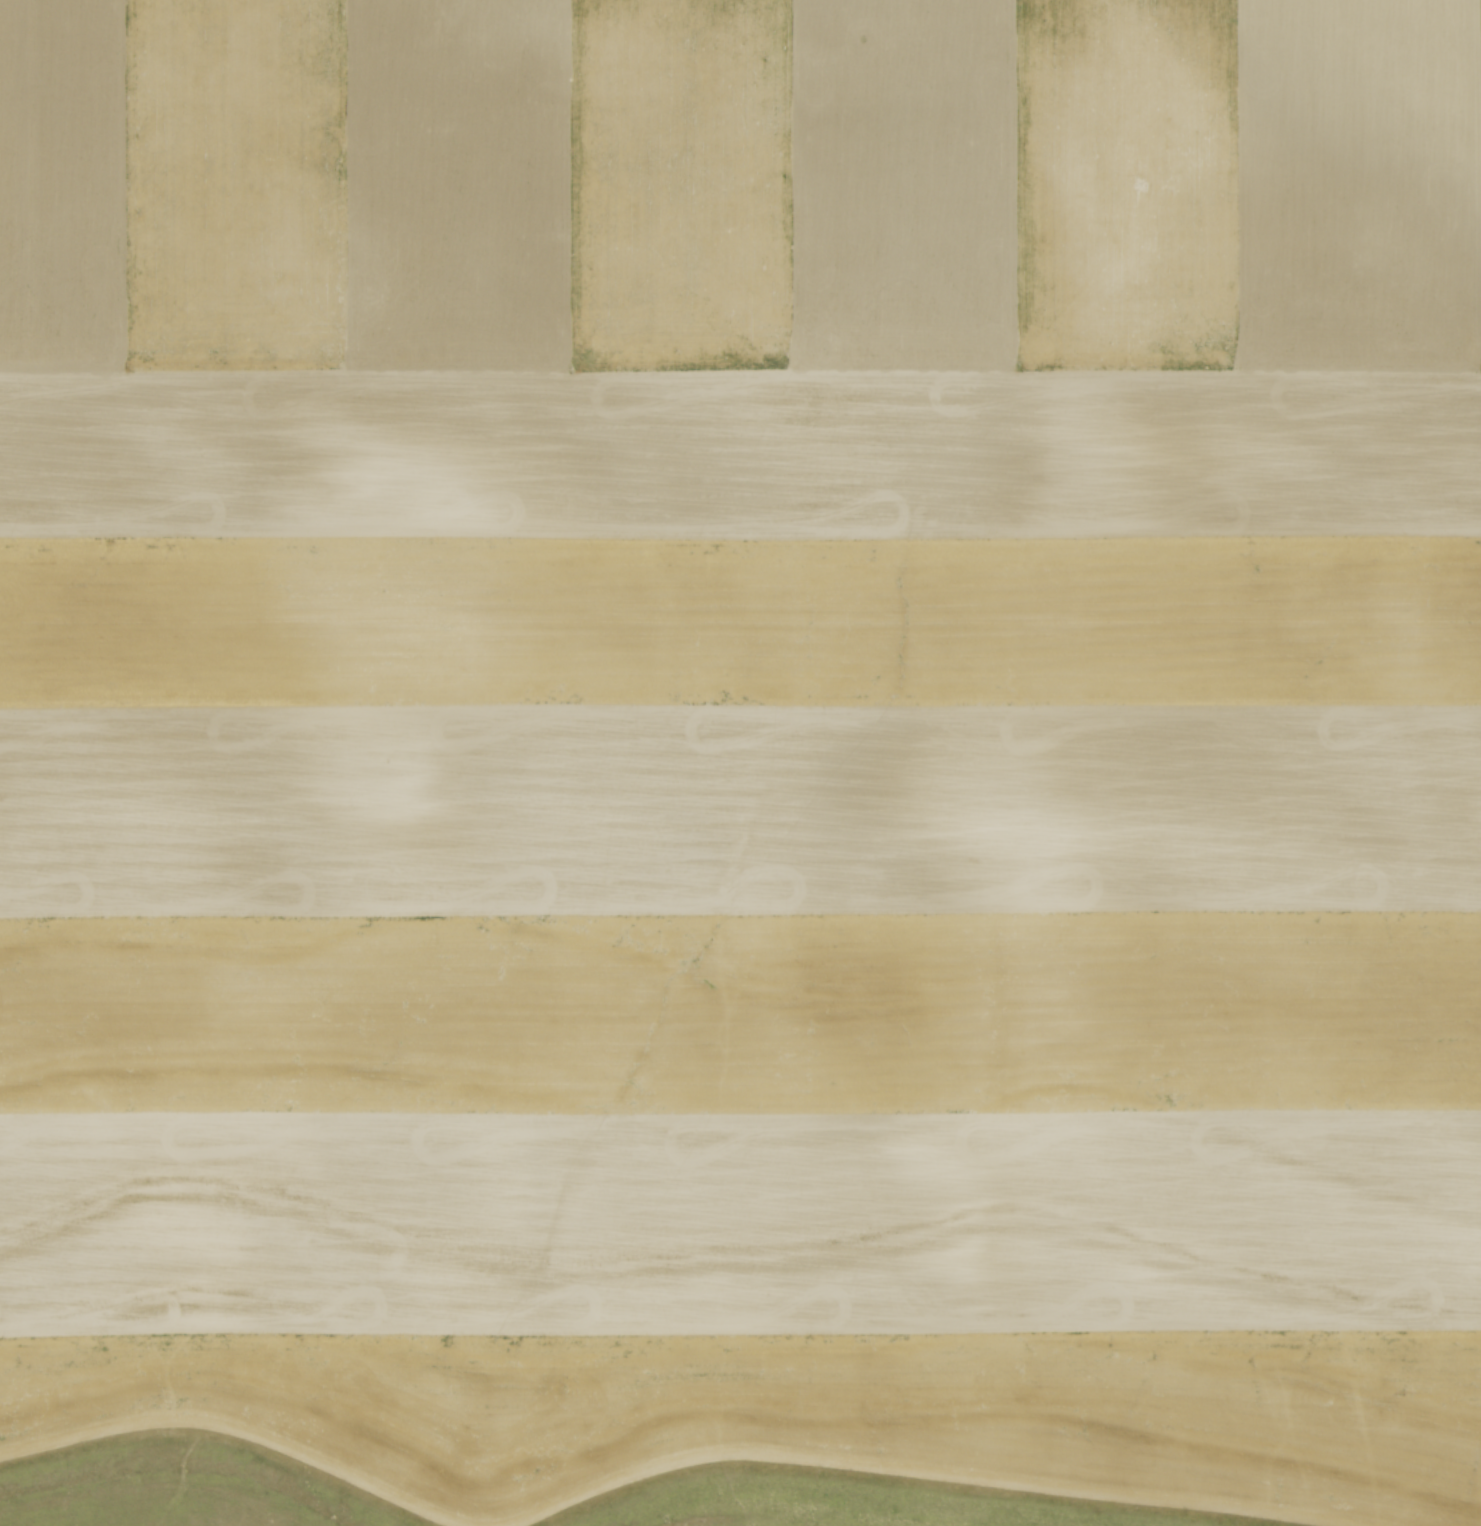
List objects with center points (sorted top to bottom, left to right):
crop: (746, 742)

